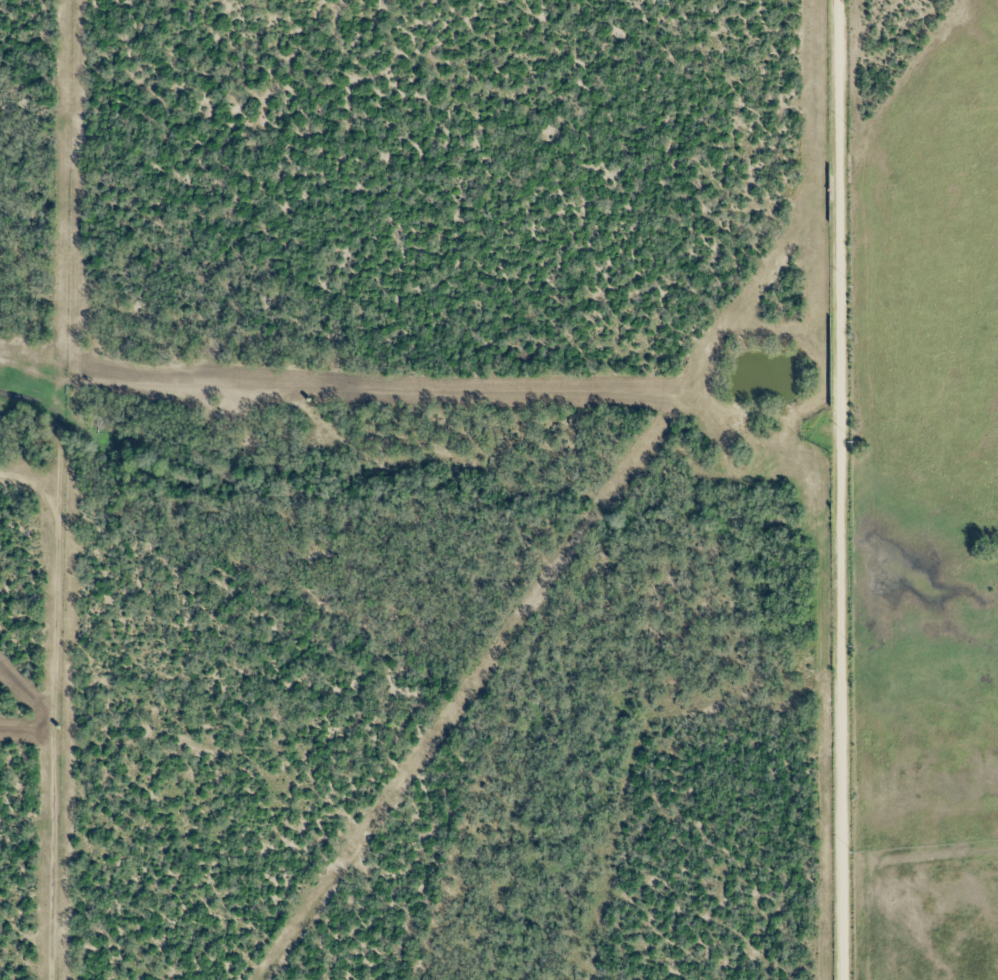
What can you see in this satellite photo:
road: (840, 489)

